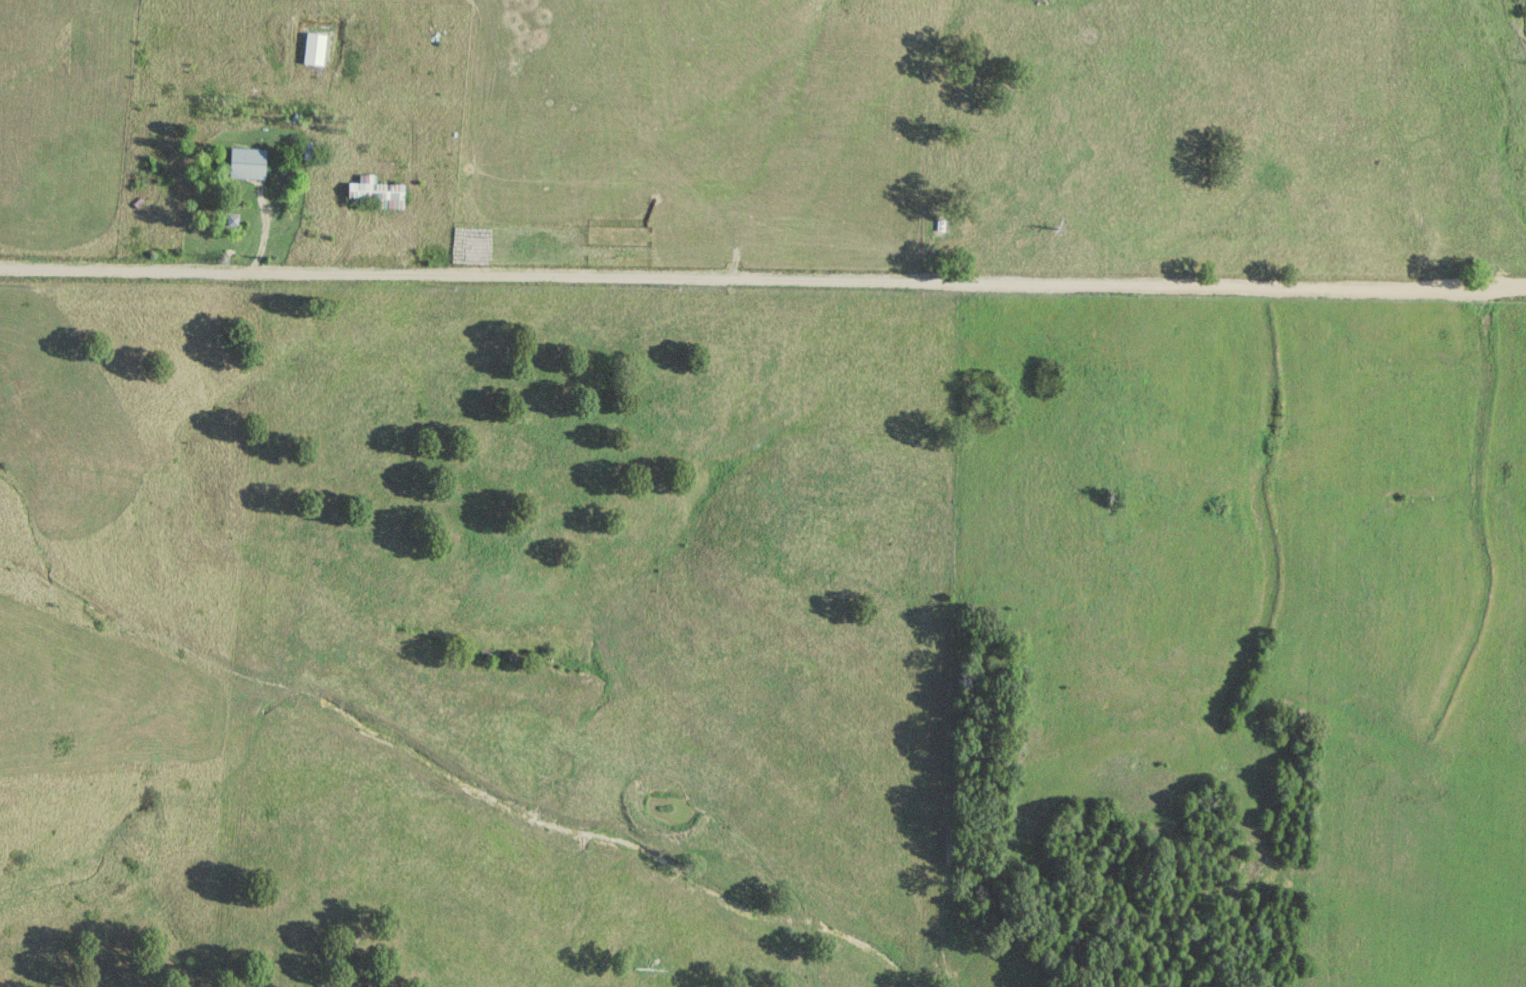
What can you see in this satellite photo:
building: (316, 49)
building: (250, 163)
road: (763, 267)

